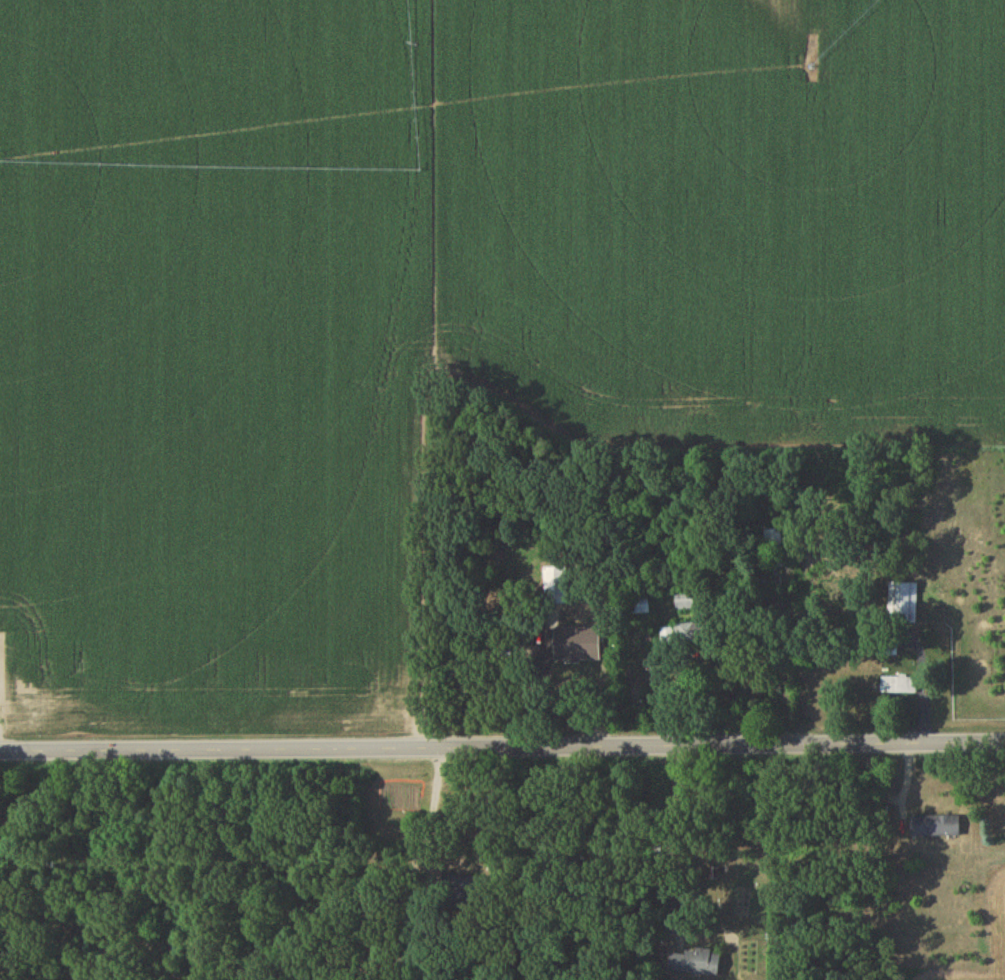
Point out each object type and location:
building: (774, 550)
building: (555, 588)
building: (685, 602)
building: (903, 605)
building: (597, 661)
road: (542, 673)
road: (502, 747)
building: (936, 828)
road: (687, 831)
building: (698, 965)

